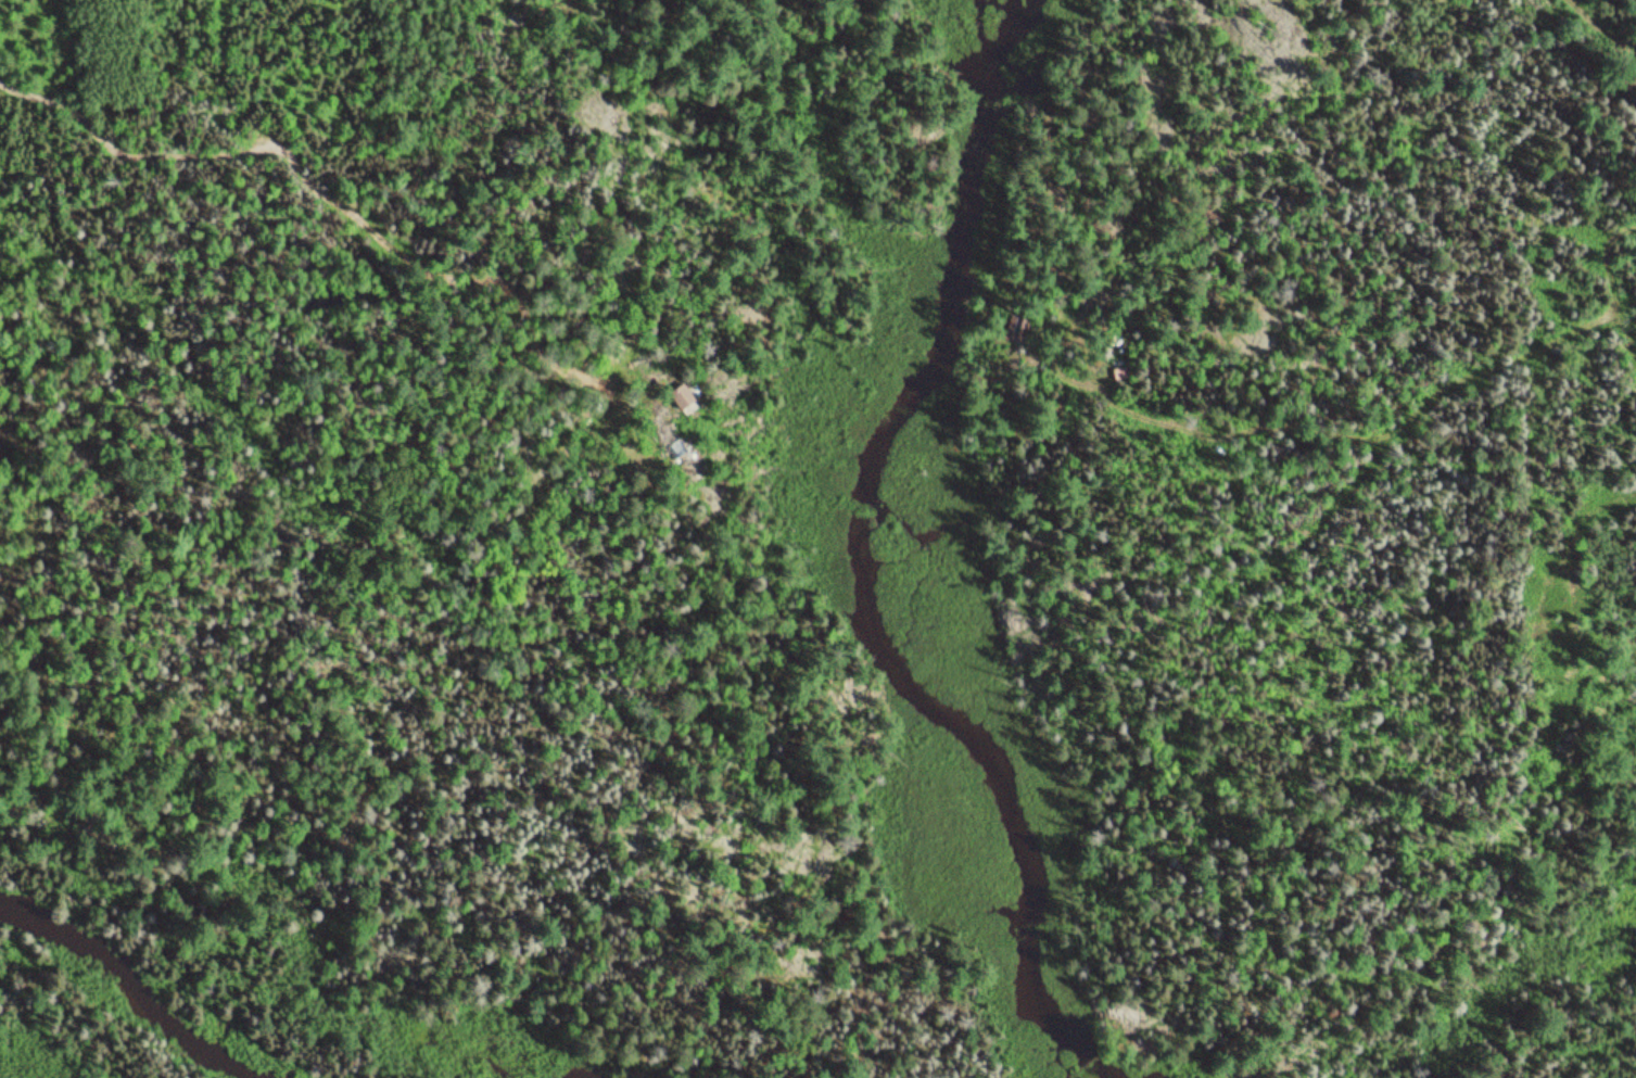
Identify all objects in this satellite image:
road: (1621, 10)
road: (1278, 52)
road: (33, 279)
road: (1620, 281)
building: (689, 397)
road: (1575, 537)
river: (139, 990)

